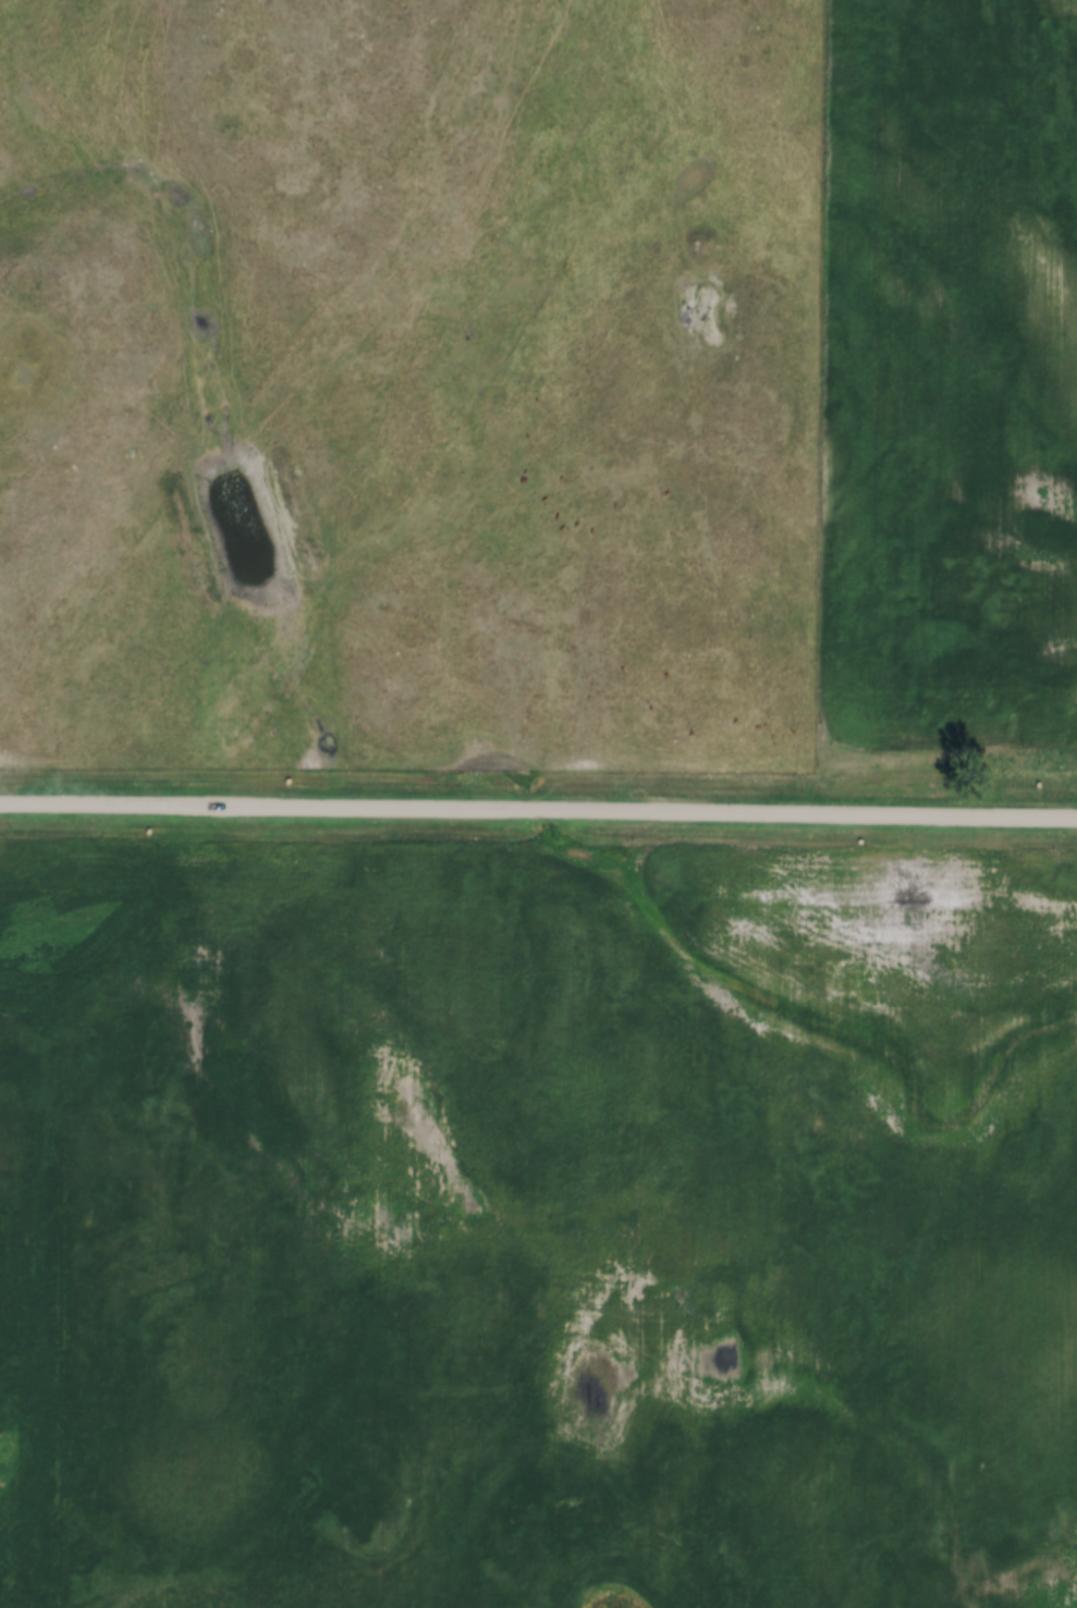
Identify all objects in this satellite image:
road: (778, 551)
road: (538, 810)

